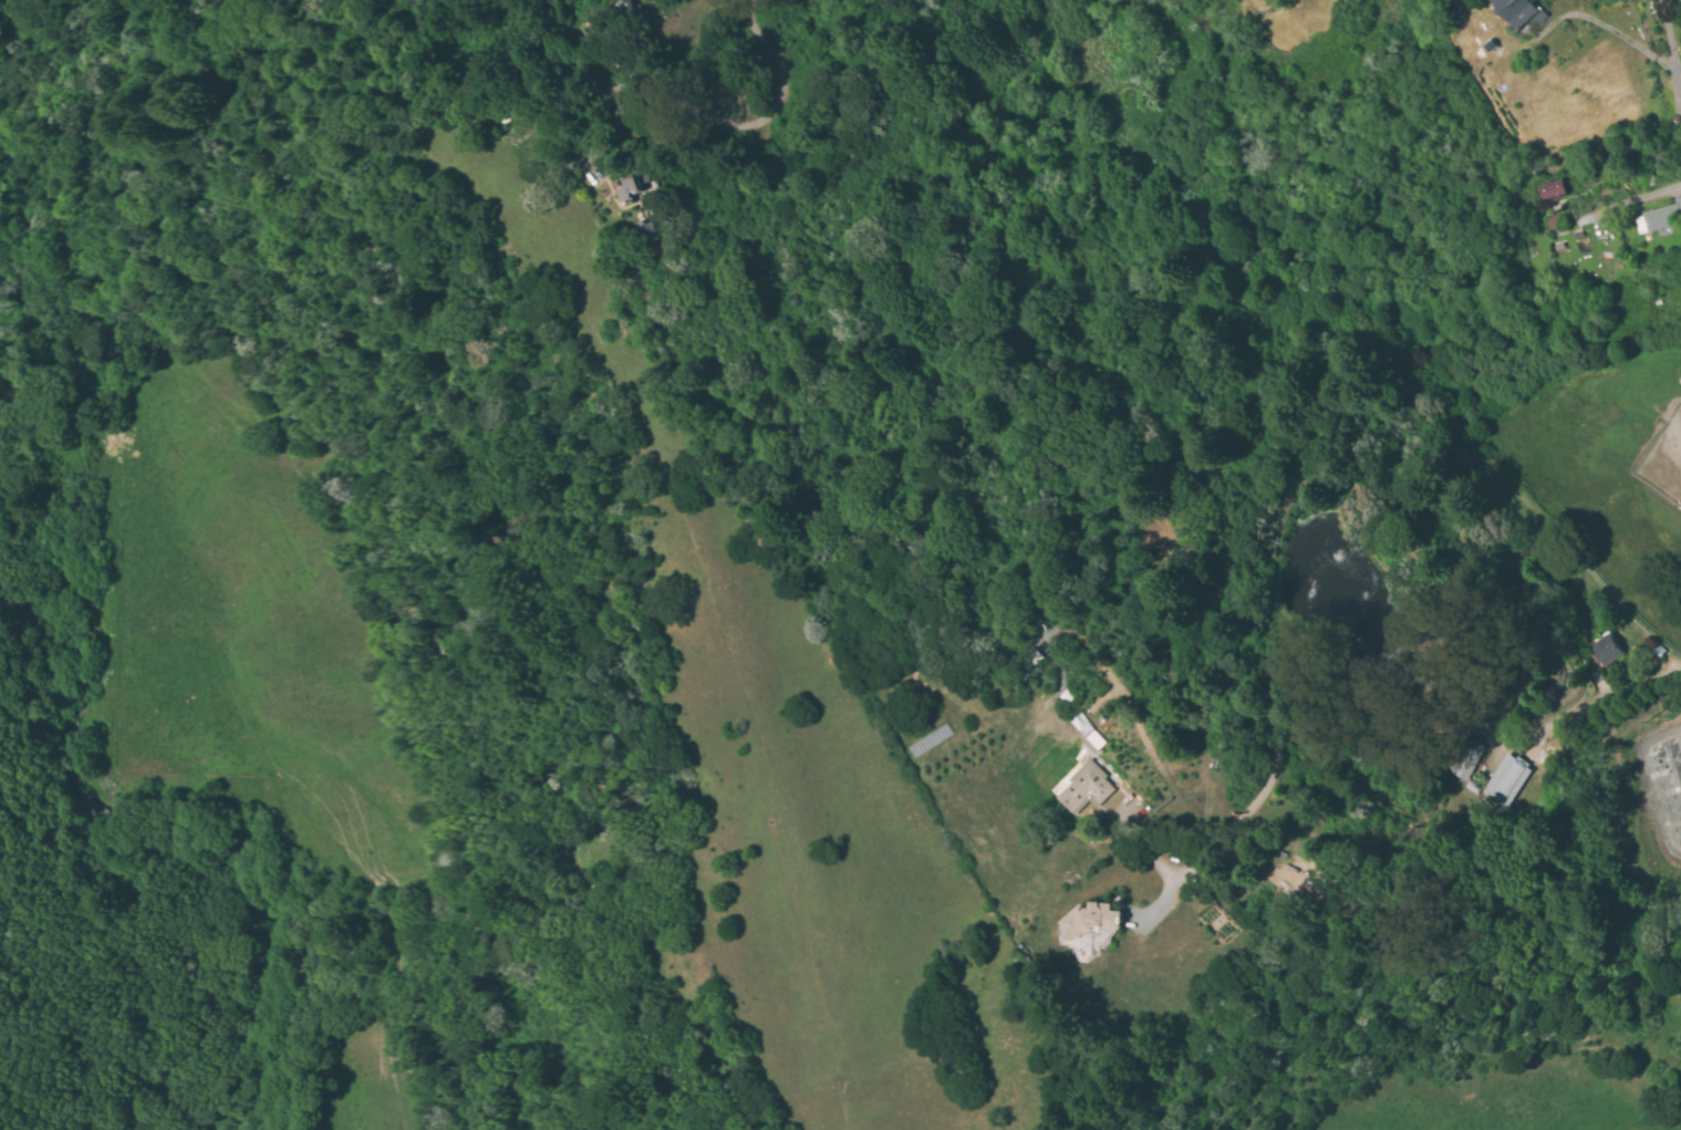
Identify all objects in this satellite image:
building: (626, 8)
building: (1519, 11)
building: (631, 186)
building: (1552, 190)
building: (1661, 218)
building: (644, 231)
building: (1605, 650)
road: (1630, 695)
building: (1461, 759)
building: (1504, 781)
power substation: (1659, 787)
building: (1085, 789)
building: (1088, 921)

